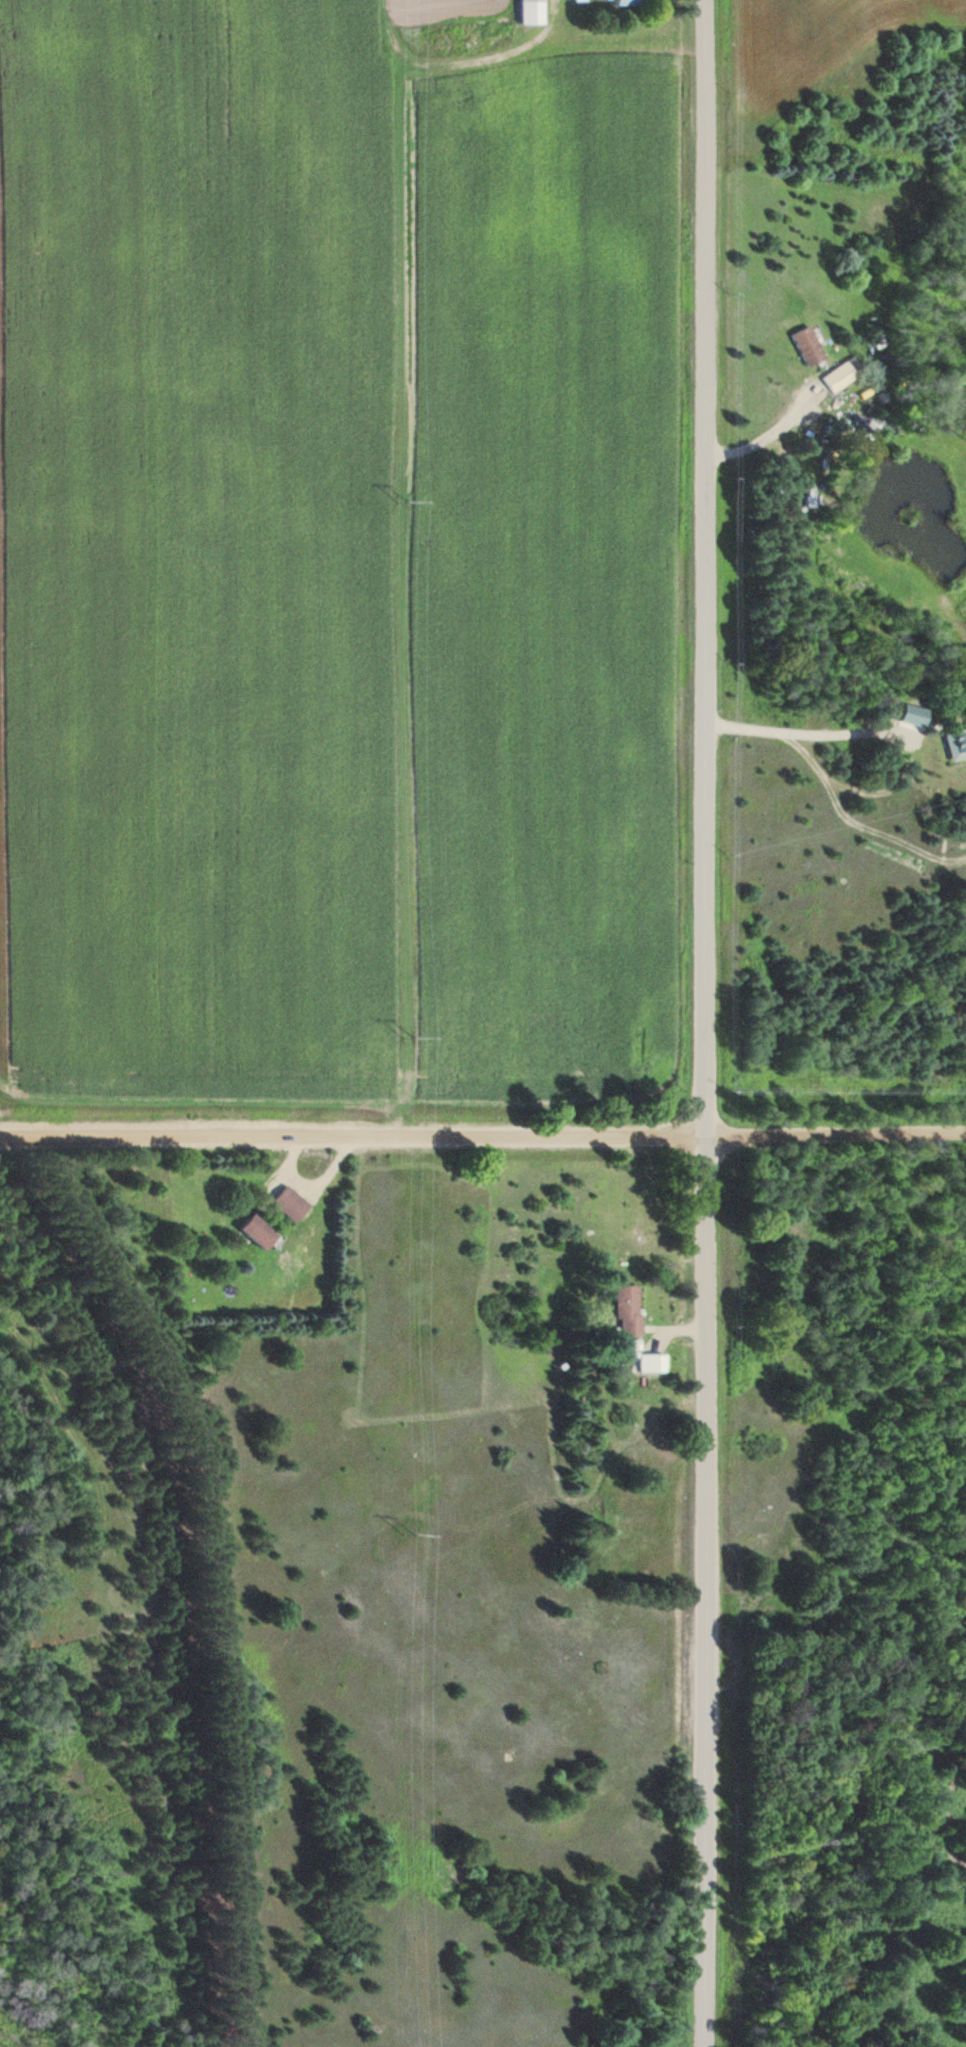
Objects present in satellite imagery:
building: (617, 3)
building: (523, 13)
building: (801, 346)
building: (832, 378)
building: (952, 743)
road: (704, 1023)
road: (482, 1137)
building: (282, 1204)
building: (247, 1232)
building: (622, 1312)

